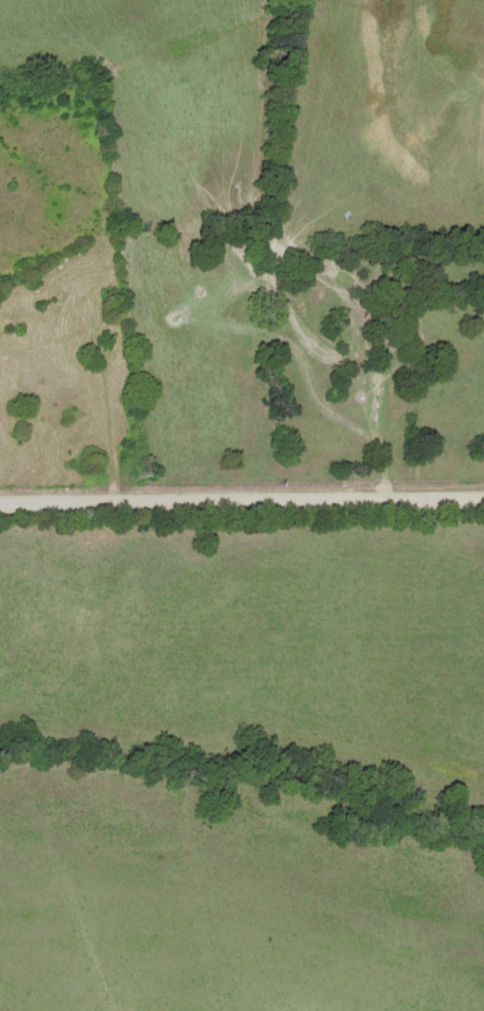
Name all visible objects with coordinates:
road: (242, 501)

